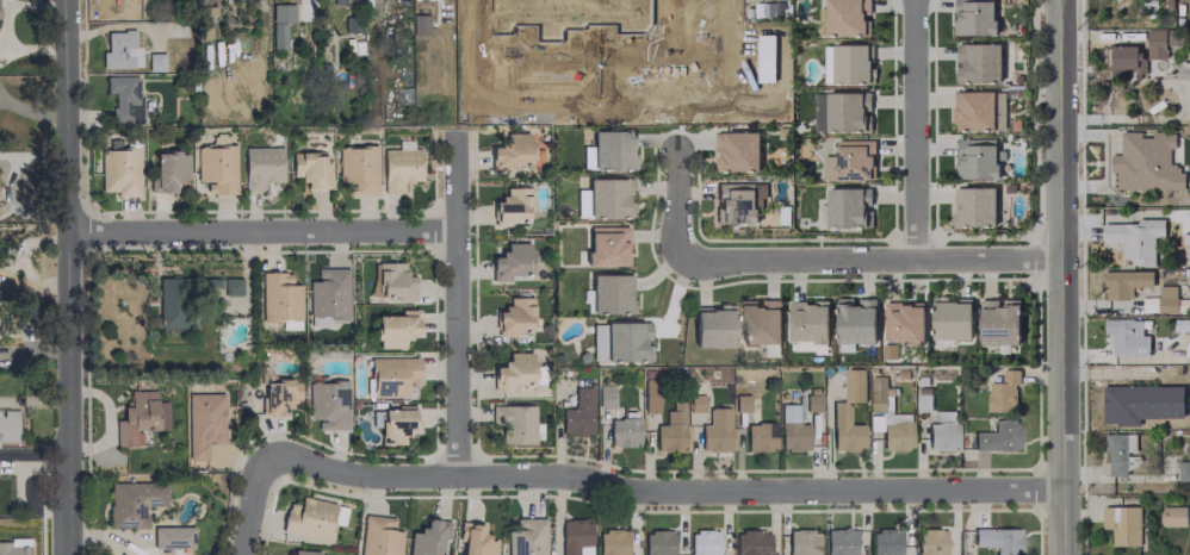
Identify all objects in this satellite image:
building: (340, 0)
building: (570, 5)
building: (514, 14)
building: (845, 17)
building: (973, 17)
building: (279, 23)
building: (419, 24)
building: (1155, 43)
building: (119, 50)
building: (690, 50)
building: (1123, 57)
building: (977, 62)
building: (616, 63)
building: (847, 63)
building: (123, 98)
building: (841, 111)
building: (978, 111)
road: (1138, 119)
road: (915, 130)
building: (607, 150)
building: (736, 150)
building: (509, 152)
building: (975, 158)
building: (849, 161)
building: (1145, 162)
building: (260, 167)
building: (215, 168)
building: (357, 168)
building: (398, 168)
building: (309, 169)
building: (118, 170)
building: (166, 170)
building: (608, 198)
road: (674, 201)
building: (737, 201)
building: (579, 202)
building: (510, 206)
building: (973, 206)
building: (848, 207)
road: (262, 233)
building: (1134, 238)
building: (606, 245)
building: (509, 261)
road: (869, 261)
road: (67, 276)
road: (1064, 277)
building: (392, 281)
building: (1123, 282)
building: (223, 286)
building: (327, 293)
building: (609, 294)
building: (277, 297)
building: (1166, 298)
building: (172, 303)
road: (458, 304)
building: (1148, 304)
building: (512, 317)
building: (855, 319)
building: (950, 319)
building: (760, 320)
building: (807, 320)
building: (998, 320)
building: (903, 322)
building: (712, 325)
building: (393, 328)
building: (1126, 336)
building: (619, 341)
building: (1188, 349)
building: (515, 370)
building: (391, 375)
building: (854, 385)
building: (1003, 391)
building: (878, 392)
building: (1160, 393)
building: (277, 394)
building: (649, 395)
building: (1135, 401)
building: (695, 403)
building: (740, 403)
building: (811, 403)
building: (327, 404)
building: (577, 413)
building: (138, 417)
building: (513, 422)
building: (202, 423)
building: (391, 424)
building: (7, 425)
building: (670, 428)
building: (792, 428)
building: (843, 429)
building: (622, 431)
building: (714, 431)
building: (942, 431)
building: (758, 436)
building: (997, 436)
building: (1117, 451)
building: (1183, 470)
road: (665, 489)
building: (131, 501)
road: (250, 506)
building: (1172, 516)
building: (306, 518)
building: (1121, 524)
building: (171, 536)
building: (377, 536)
building: (426, 537)
building: (526, 537)
building: (574, 537)
building: (472, 540)
building: (997, 540)
building: (838, 541)
building: (930, 541)
building: (611, 542)
building: (656, 542)
building: (702, 542)
building: (750, 542)
building: (801, 542)
building: (885, 542)
building: (13, 547)
building: (302, 551)

